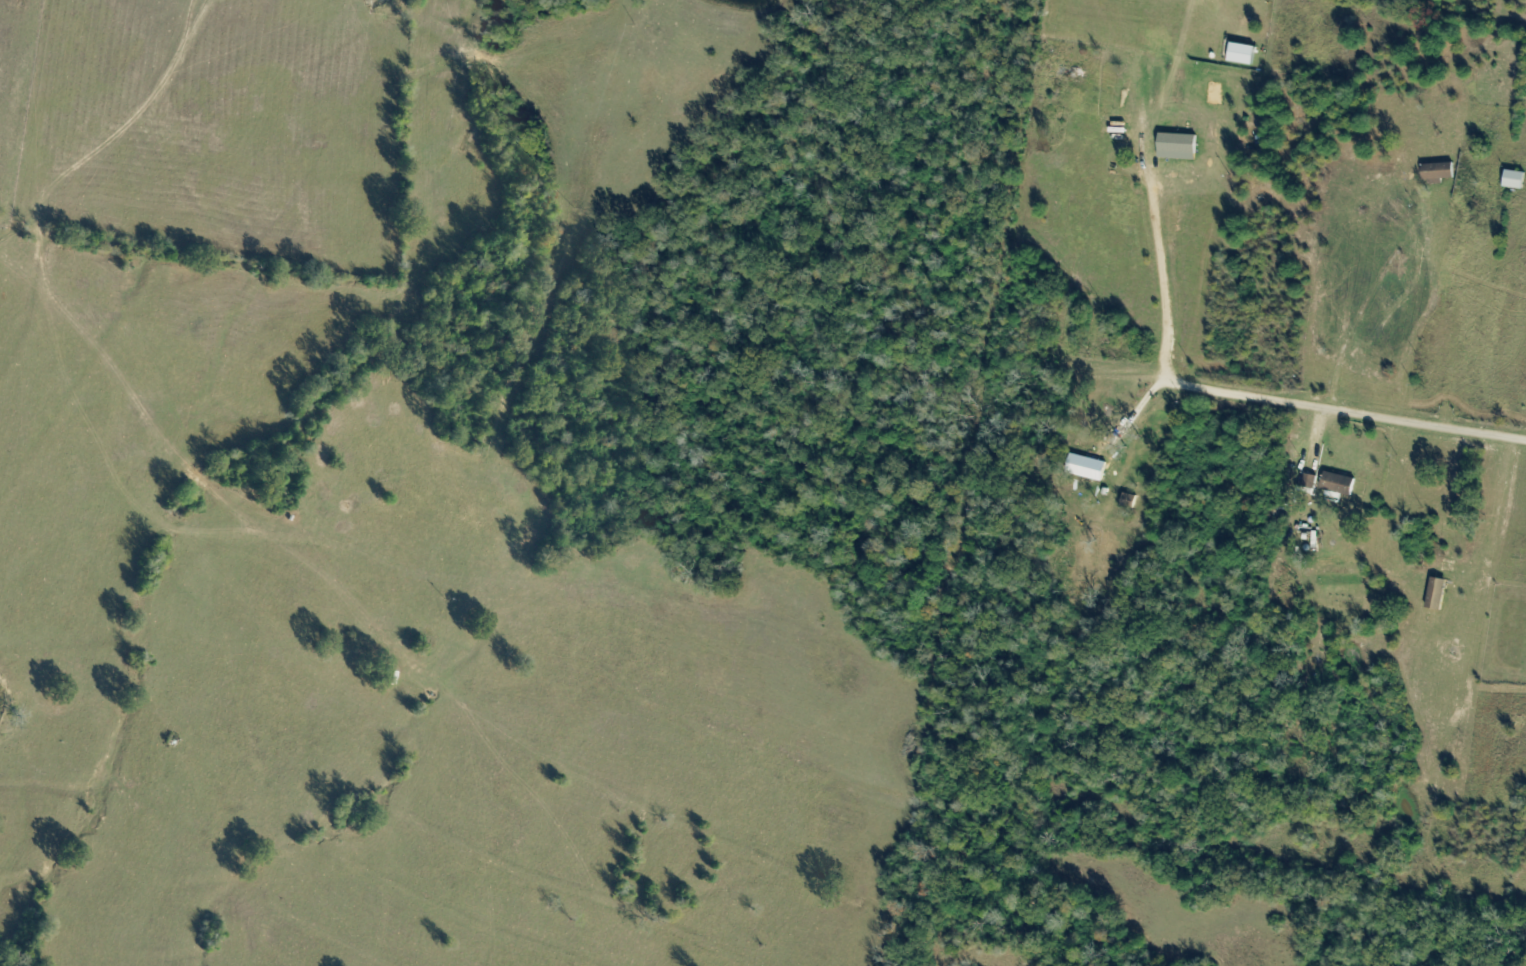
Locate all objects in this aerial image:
building: (1180, 145)
building: (1440, 173)
building: (1516, 182)
road: (1164, 310)
road: (1346, 409)
building: (1088, 468)
building: (1309, 484)
building: (1340, 486)
building: (1438, 594)

